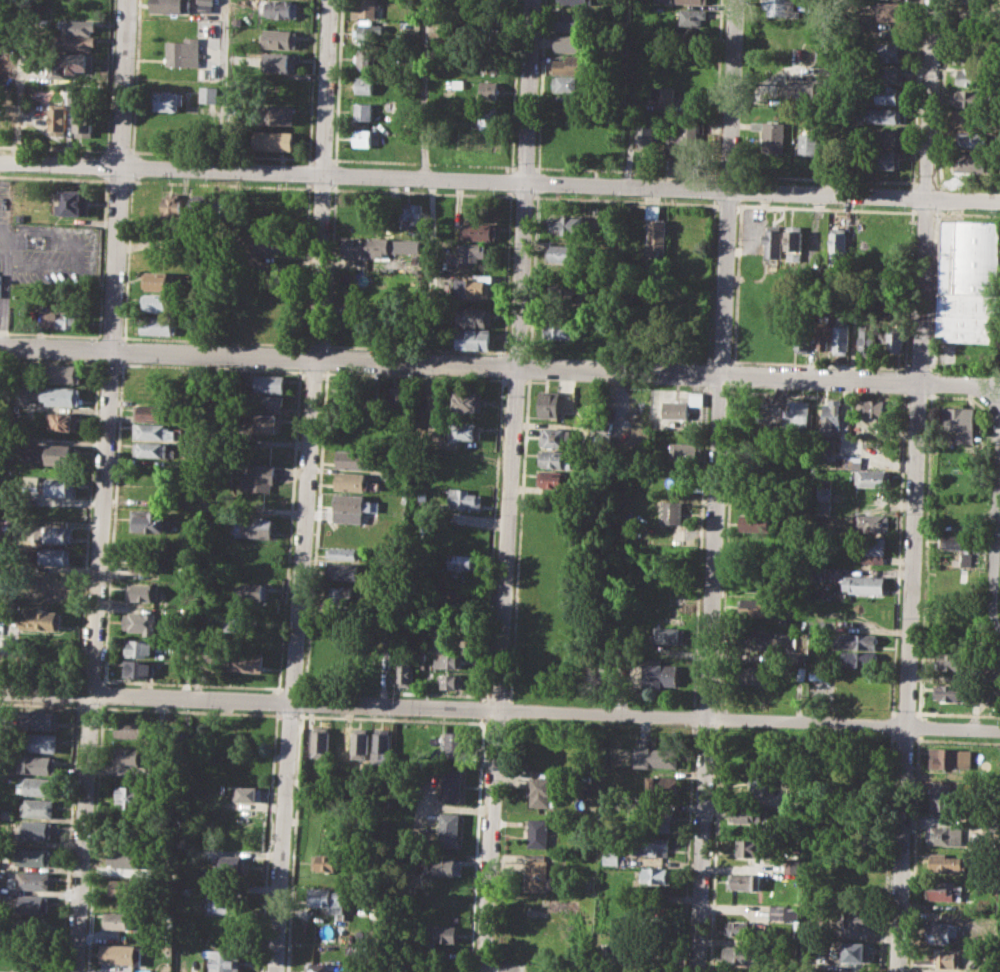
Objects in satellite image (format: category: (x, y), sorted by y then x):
building: (663, 0)
building: (986, 0)
building: (206, 1)
building: (578, 2)
building: (692, 2)
building: (170, 5)
building: (776, 7)
building: (282, 8)
building: (364, 8)
building: (892, 10)
building: (691, 16)
building: (569, 21)
building: (77, 26)
building: (367, 32)
building: (278, 39)
building: (76, 42)
building: (567, 43)
building: (184, 52)
building: (892, 53)
building: (364, 57)
building: (279, 62)
building: (489, 62)
building: (72, 64)
building: (571, 64)
building: (891, 74)
road: (109, 75)
road: (134, 75)
building: (976, 76)
building: (568, 83)
road: (225, 85)
building: (364, 85)
road: (426, 88)
building: (800, 88)
building: (488, 90)
building: (208, 93)
building: (663, 95)
building: (890, 95)
building: (974, 98)
building: (167, 101)
building: (362, 110)
building: (275, 114)
building: (885, 115)
building: (5, 116)
building: (488, 117)
building: (58, 121)
building: (84, 122)
building: (645, 131)
building: (684, 135)
building: (771, 135)
building: (361, 136)
building: (884, 137)
building: (975, 139)
building: (273, 140)
building: (808, 144)
road: (54, 147)
road: (119, 150)
road: (221, 153)
road: (321, 158)
building: (883, 158)
road: (423, 161)
building: (976, 161)
road: (131, 165)
road: (524, 167)
road: (626, 170)
road: (727, 174)
road: (105, 177)
road: (104, 179)
road: (912, 179)
road: (500, 180)
building: (75, 202)
road: (104, 206)
building: (274, 206)
building: (172, 208)
building: (200, 209)
building: (227, 211)
building: (411, 212)
building: (565, 223)
building: (655, 229)
building: (478, 231)
building: (268, 242)
building: (795, 243)
building: (837, 243)
building: (773, 245)
road: (75, 246)
building: (360, 247)
building: (472, 251)
building: (560, 253)
parking lot: (42, 258)
road: (127, 259)
building: (157, 261)
building: (272, 265)
building: (157, 280)
building: (967, 280)
building: (0, 284)
building: (472, 286)
road: (6, 294)
building: (157, 303)
building: (352, 311)
building: (473, 315)
building: (63, 318)
building: (159, 325)
building: (557, 330)
building: (823, 331)
road: (48, 333)
building: (842, 334)
building: (802, 336)
building: (892, 336)
building: (473, 338)
building: (867, 338)
road: (96, 349)
road: (122, 349)
road: (97, 362)
road: (109, 362)
road: (503, 365)
building: (63, 373)
building: (269, 383)
building: (155, 394)
building: (62, 395)
building: (371, 395)
building: (399, 396)
building: (343, 398)
building: (468, 401)
building: (268, 402)
building: (554, 404)
building: (619, 408)
building: (674, 408)
building: (878, 408)
building: (154, 413)
building: (800, 413)
building: (834, 413)
building: (64, 420)
building: (961, 422)
building: (265, 423)
building: (463, 430)
building: (153, 431)
building: (556, 437)
building: (149, 449)
building: (684, 451)
building: (59, 453)
building: (352, 459)
building: (555, 459)
building: (852, 462)
road: (89, 474)
building: (257, 477)
building: (552, 478)
building: (872, 478)
building: (350, 481)
road: (714, 485)
road: (915, 485)
road: (102, 486)
road: (304, 486)
road: (508, 486)
building: (59, 487)
building: (823, 493)
building: (464, 498)
building: (348, 502)
building: (822, 508)
building: (670, 512)
road: (996, 515)
road: (111, 522)
building: (151, 522)
building: (756, 523)
building: (871, 524)
building: (253, 526)
road: (287, 528)
building: (56, 534)
building: (955, 542)
building: (868, 548)
building: (342, 553)
building: (55, 555)
building: (145, 562)
building: (463, 562)
building: (342, 571)
building: (819, 573)
building: (50, 579)
building: (864, 584)
building: (250, 591)
building: (142, 592)
building: (338, 596)
building: (755, 605)
building: (676, 613)
building: (41, 619)
building: (233, 621)
building: (140, 622)
building: (667, 634)
building: (783, 639)
building: (751, 640)
building: (855, 641)
building: (138, 648)
building: (859, 659)
building: (420, 660)
building: (448, 660)
building: (245, 661)
building: (953, 661)
building: (135, 667)
building: (815, 672)
building: (404, 673)
building: (800, 673)
building: (659, 674)
road: (39, 677)
building: (757, 677)
road: (88, 679)
building: (451, 680)
road: (76, 692)
building: (950, 692)
road: (101, 693)
road: (500, 709)
building: (39, 719)
building: (132, 727)
building: (237, 732)
building: (318, 741)
building: (337, 741)
building: (37, 742)
building: (357, 742)
building: (453, 744)
building: (378, 745)
building: (129, 755)
building: (656, 756)
building: (951, 758)
building: (36, 764)
building: (764, 783)
building: (662, 784)
building: (451, 785)
building: (36, 786)
building: (540, 792)
building: (247, 793)
building: (937, 795)
building: (129, 796)
building: (36, 807)
building: (748, 813)
building: (7, 814)
building: (657, 823)
building: (449, 829)
building: (34, 830)
building: (946, 831)
building: (538, 832)
road: (68, 837)
road: (93, 837)
building: (650, 846)
building: (749, 847)
building: (32, 856)
building: (123, 857)
building: (611, 858)
building: (945, 862)
building: (231, 863)
building: (323, 863)
building: (790, 865)
building: (447, 866)
building: (541, 875)
building: (656, 875)
building: (31, 880)
building: (743, 881)
building: (590, 884)
building: (123, 888)
building: (941, 891)
building: (326, 900)
building: (32, 904)
building: (226, 906)
building: (783, 912)
building: (857, 918)
building: (117, 920)
building: (739, 928)
building: (944, 932)
building: (442, 934)
building: (855, 952)
building: (121, 954)
building: (739, 955)
building: (947, 959)
building: (224, 961)
road: (495, 966)
building: (318, 967)

